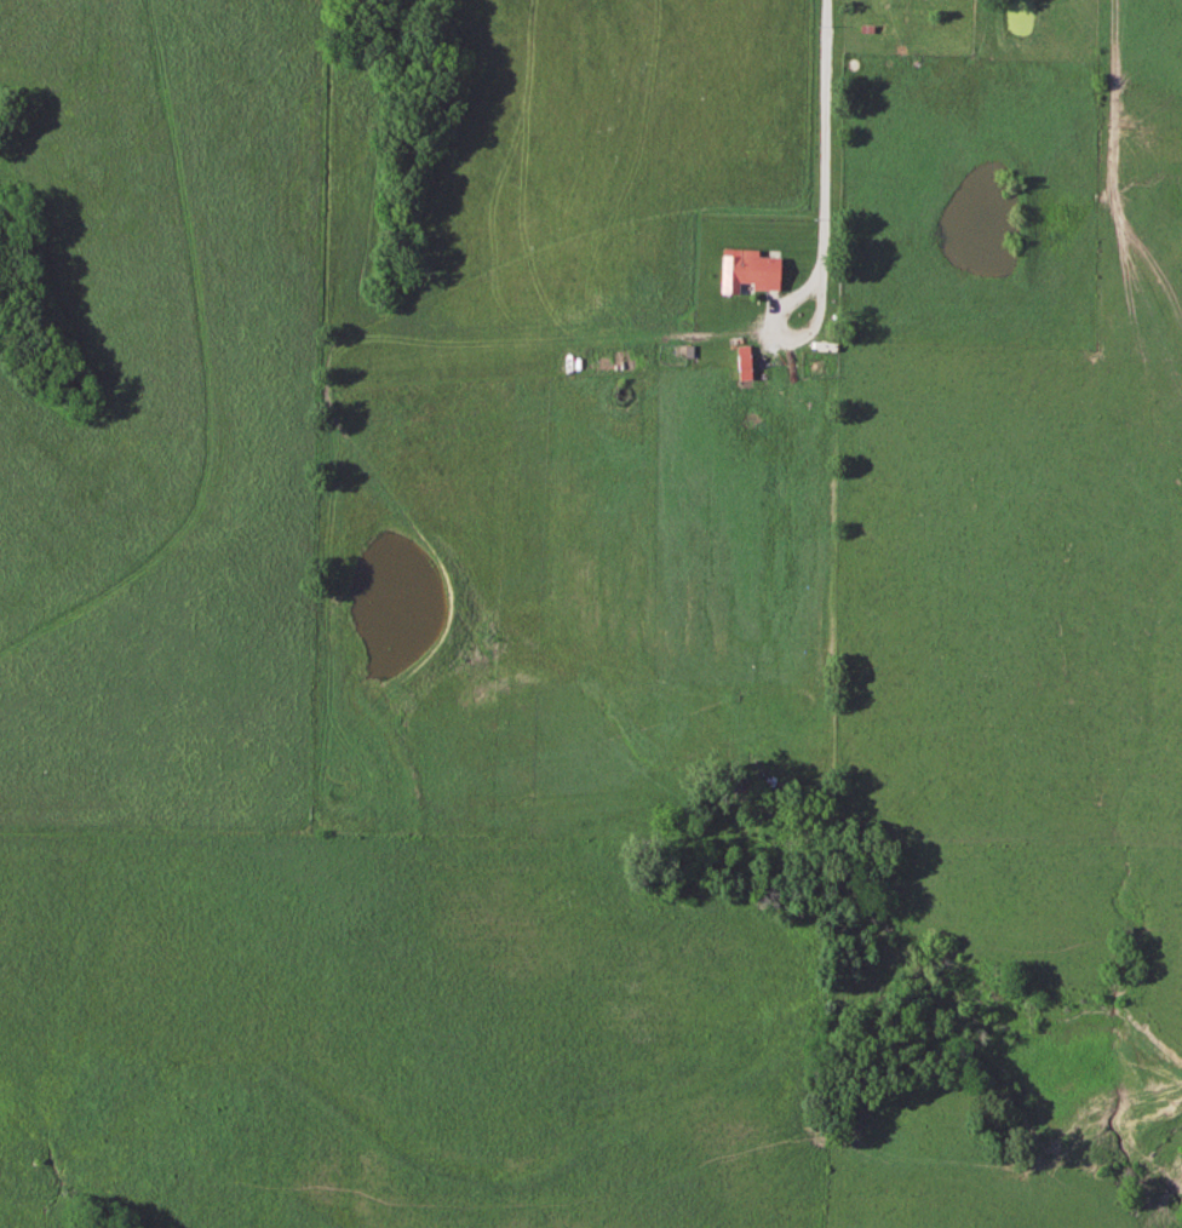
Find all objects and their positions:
road: (832, 126)
building: (753, 270)
road: (793, 321)

